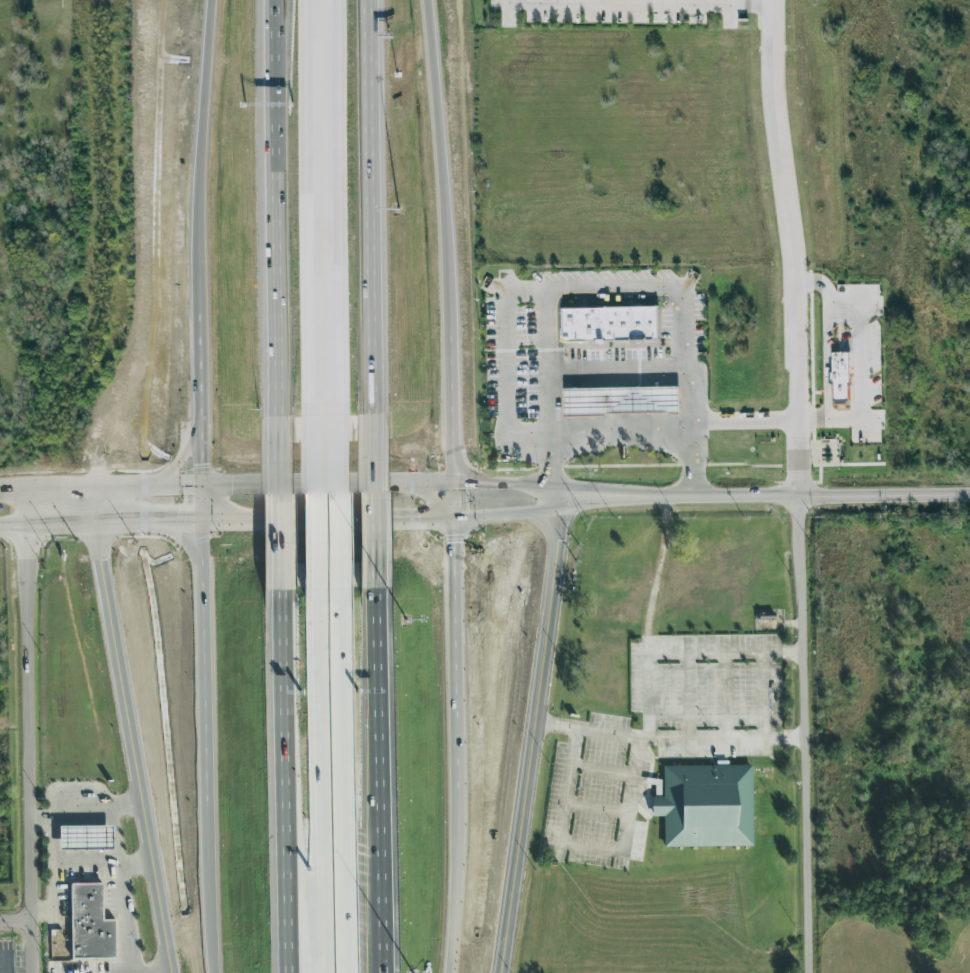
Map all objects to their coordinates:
road: (728, 6)
road: (614, 13)
road: (753, 13)
road: (758, 14)
road: (201, 153)
road: (445, 187)
road: (375, 206)
road: (306, 207)
road: (331, 207)
road: (272, 211)
road: (794, 247)
road: (619, 286)
road: (831, 296)
building: (611, 321)
road: (810, 354)
road: (825, 355)
road: (199, 356)
road: (507, 363)
road: (859, 365)
road: (619, 369)
building: (838, 378)
road: (818, 392)
building: (619, 397)
gas station: (619, 397)
road: (744, 420)
road: (834, 420)
road: (620, 422)
road: (452, 428)
road: (199, 446)
road: (182, 452)
road: (846, 463)
road: (652, 466)
road: (819, 476)
road: (430, 481)
traffic signals: (453, 481)
road: (304, 484)
road: (505, 485)
traffic signals: (200, 486)
road: (132, 487)
road: (13, 490)
road: (45, 490)
road: (609, 494)
road: (382, 495)
road: (815, 495)
road: (453, 498)
road: (278, 499)
road: (314, 501)
road: (335, 502)
road: (557, 508)
traffic signals: (453, 515)
road: (326, 517)
traffic signals: (201, 520)
road: (100, 522)
road: (656, 580)
road: (204, 643)
road: (455, 676)
road: (283, 719)
park: (8, 729)
road: (30, 731)
road: (131, 731)
road: (529, 731)
road: (806, 734)
road: (668, 739)
road: (638, 761)
road: (387, 775)
road: (315, 781)
road: (338, 782)
building: (705, 807)
road: (71, 816)
building: (83, 838)
road: (55, 863)
road: (138, 863)
road: (122, 873)
road: (210, 887)
road: (455, 905)
road: (287, 917)
road: (293, 917)
road: (17, 922)
building: (87, 922)
road: (387, 956)
road: (170, 972)

